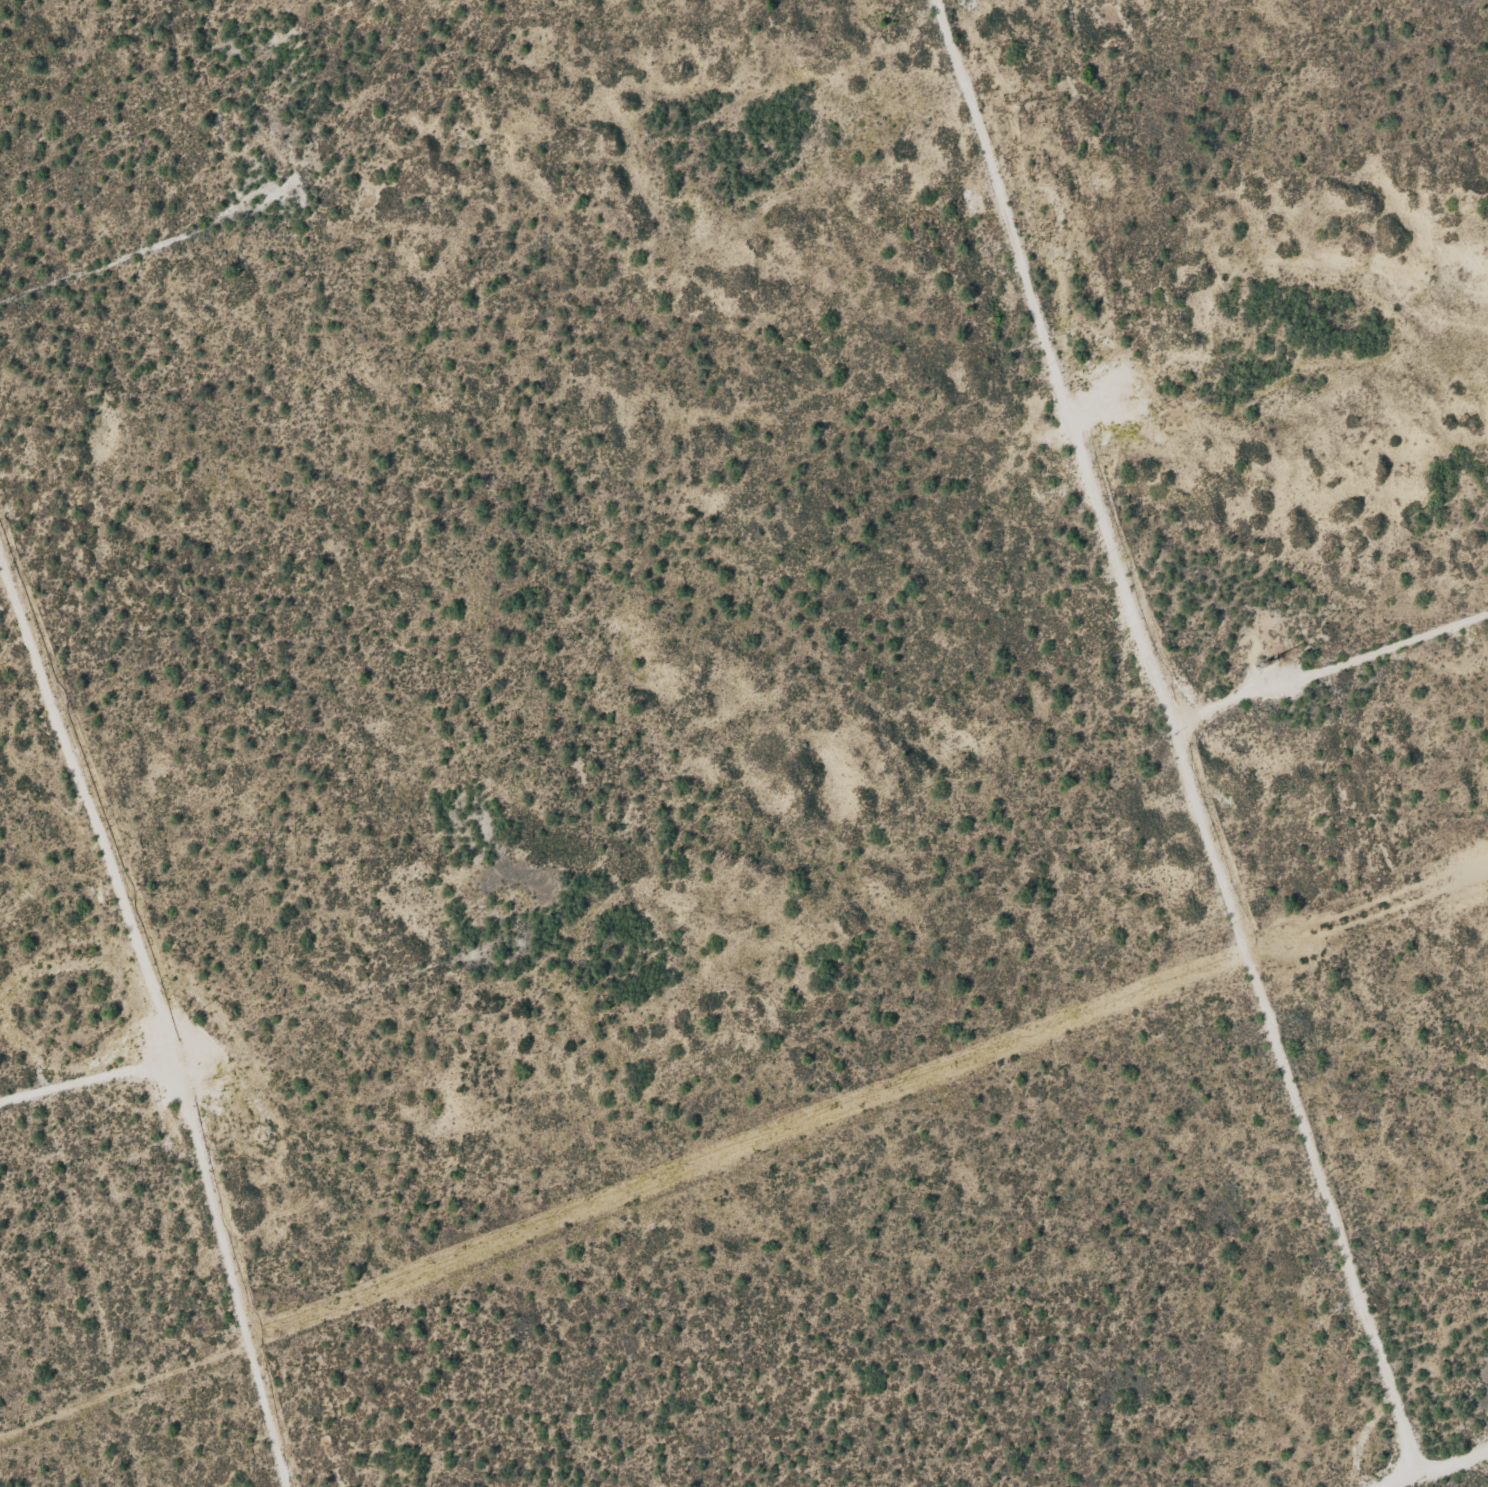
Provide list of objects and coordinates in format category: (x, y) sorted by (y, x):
road: (128, 265)
road: (1330, 665)
road: (1182, 742)
road: (155, 1014)
road: (238, 1024)

